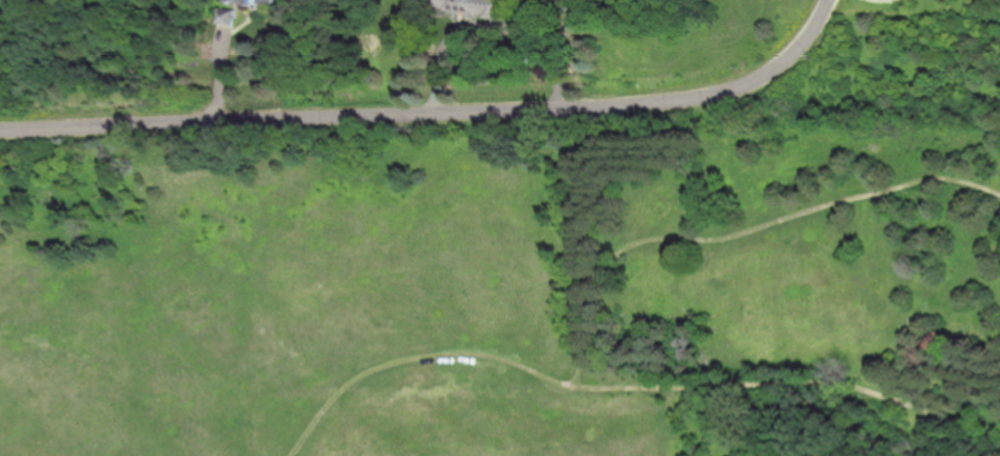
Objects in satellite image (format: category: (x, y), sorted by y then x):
building: (251, 1)
building: (476, 7)
road: (821, 13)
building: (227, 18)
road: (224, 53)
road: (419, 113)
road: (738, 234)
park: (504, 285)
road: (622, 390)
road: (898, 415)

